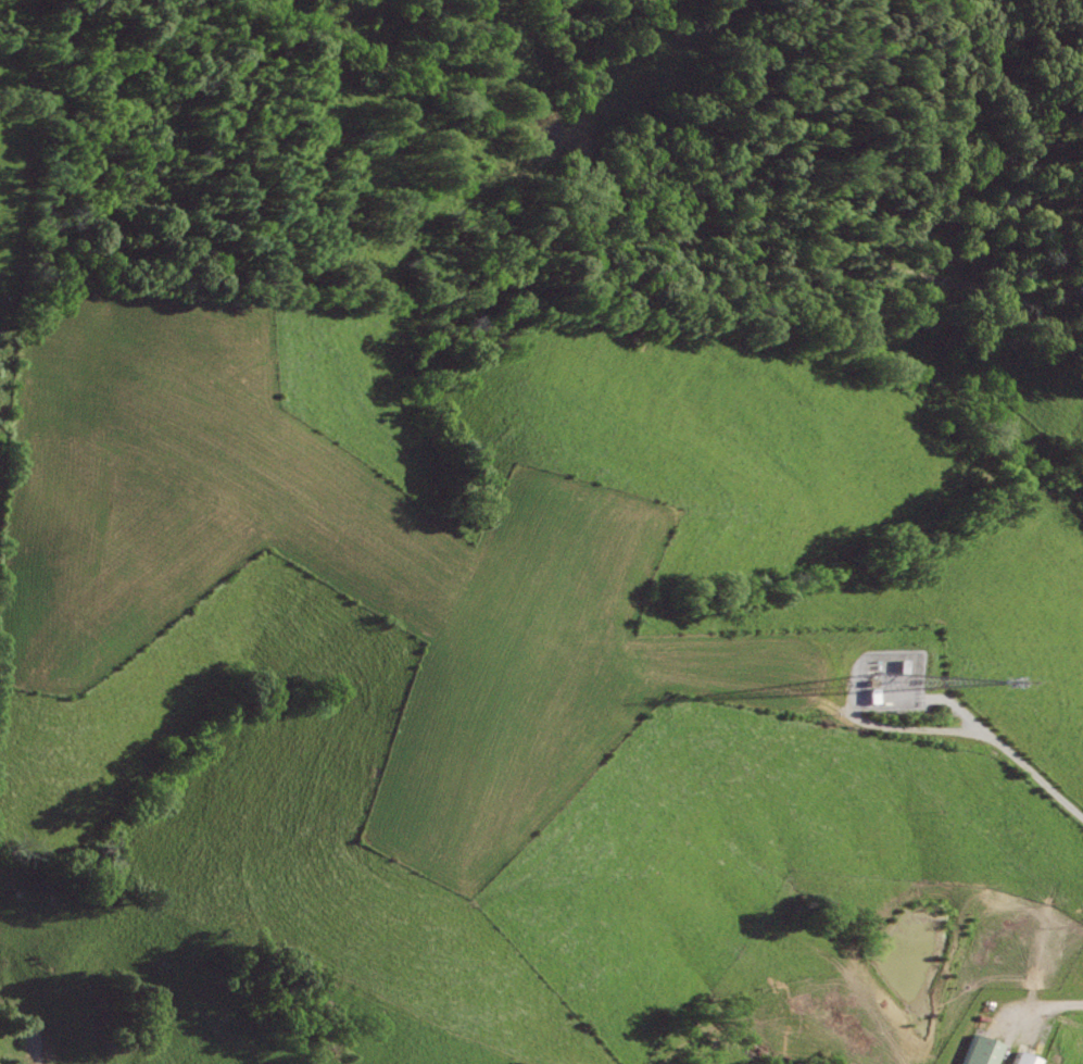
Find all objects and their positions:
road: (1007, 752)
road: (1042, 1005)
building: (979, 1051)
building: (1020, 1060)

